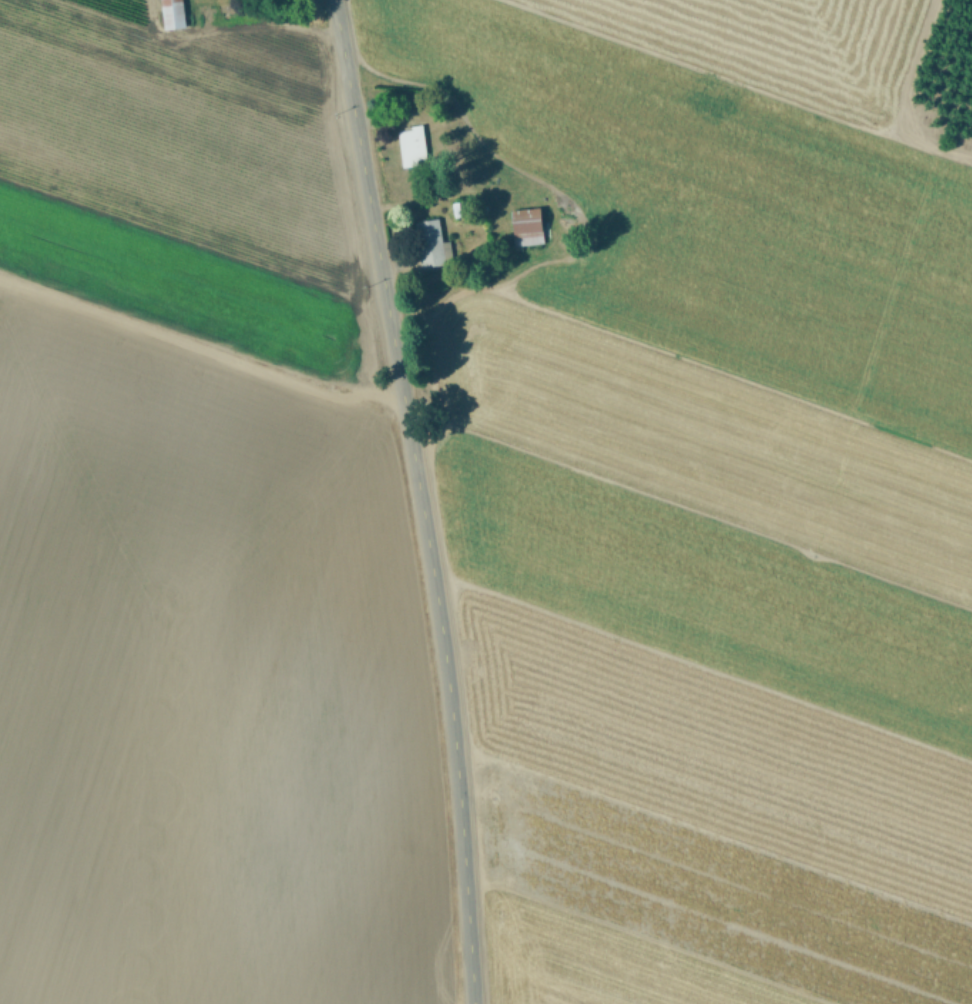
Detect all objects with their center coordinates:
building: (171, 14)
building: (411, 146)
building: (526, 226)
building: (428, 243)
crop: (702, 484)
road: (419, 499)
road: (692, 510)
crop: (201, 532)

